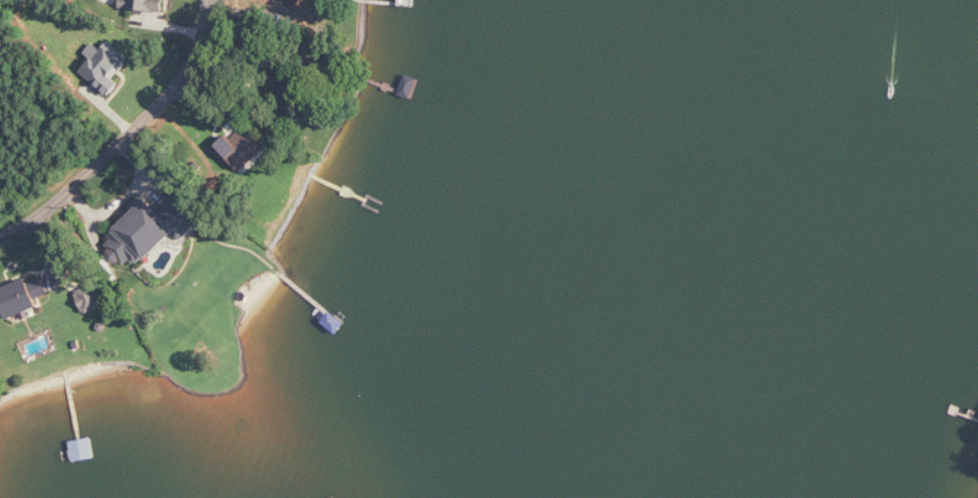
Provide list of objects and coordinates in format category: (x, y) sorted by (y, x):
building: (142, 5)
building: (105, 66)
road: (123, 134)
building: (240, 147)
building: (151, 228)
building: (22, 297)
building: (89, 299)

